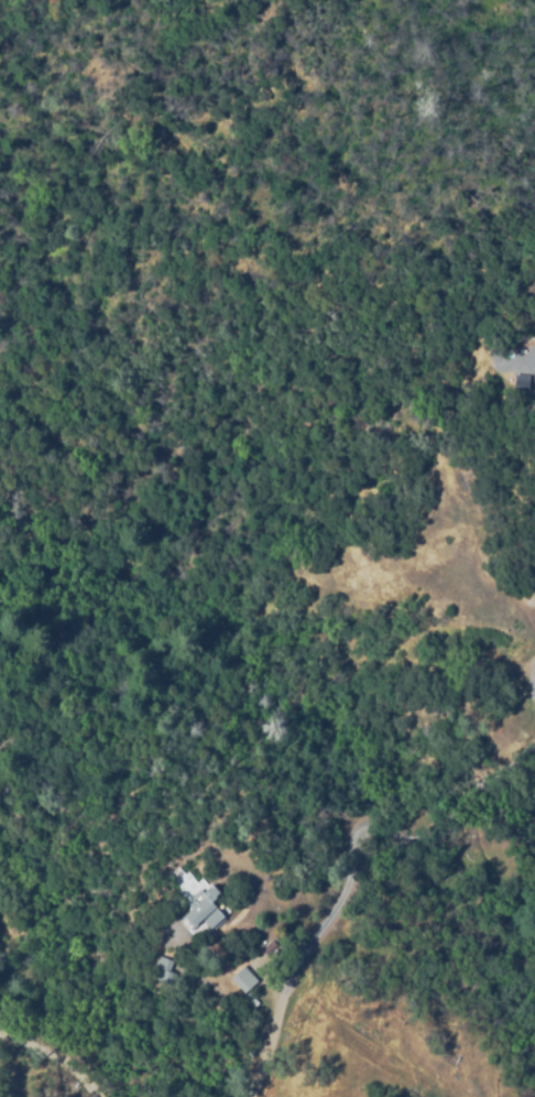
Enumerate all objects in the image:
road: (356, 861)
building: (199, 910)
building: (162, 966)
building: (242, 978)
road: (51, 1064)

